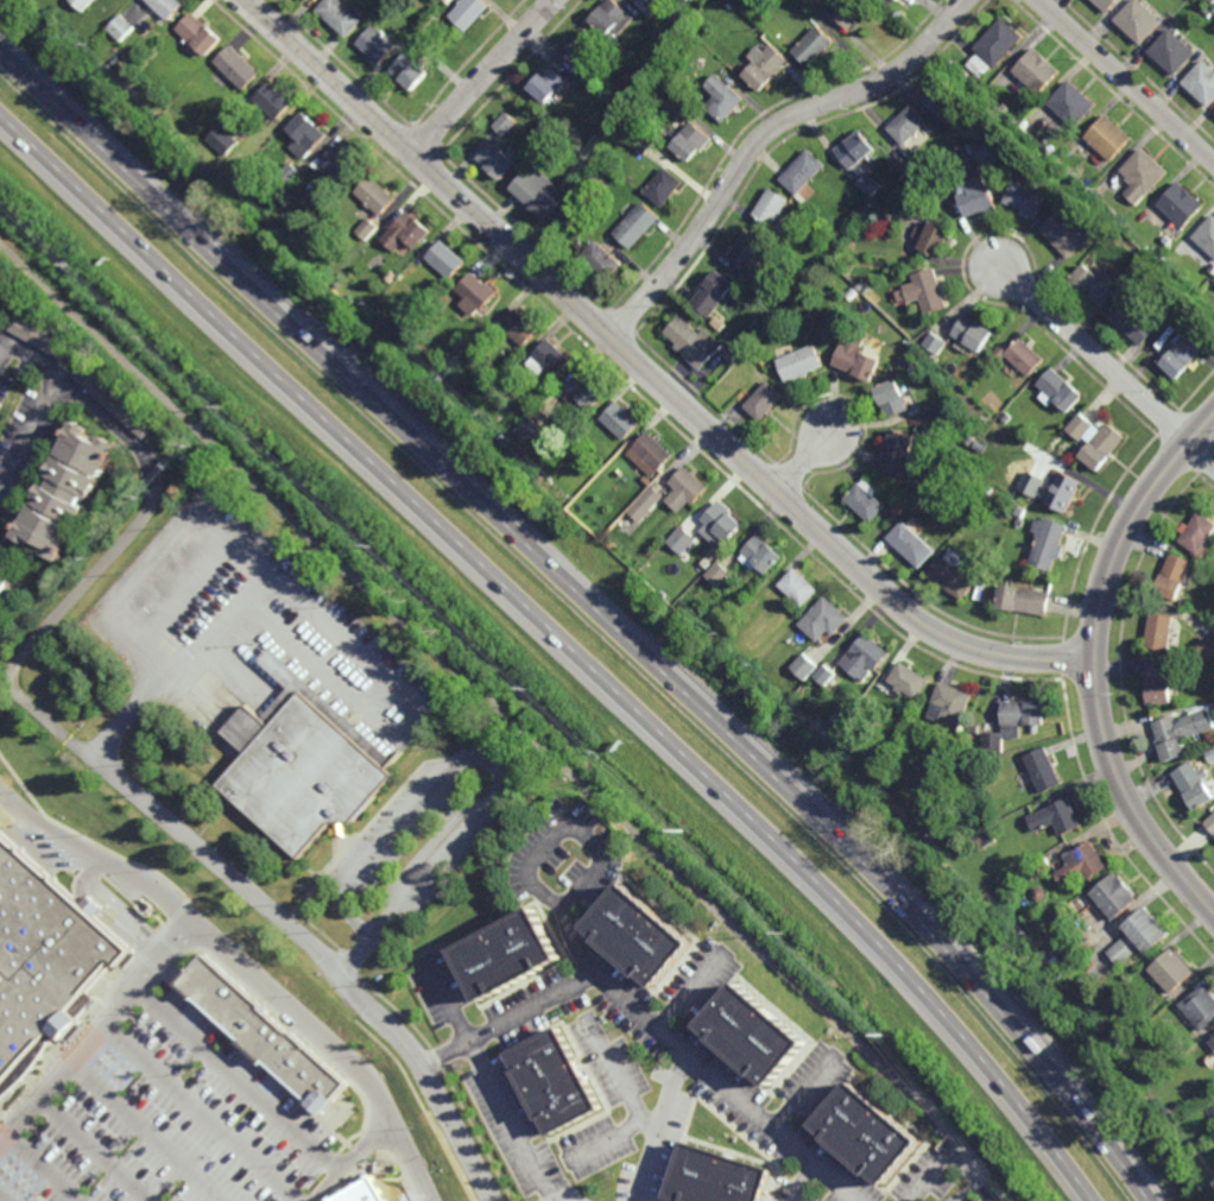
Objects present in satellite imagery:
building: (303, 0)
building: (305, 0)
building: (897, 0)
building: (640, 1)
building: (1209, 2)
building: (83, 4)
building: (1107, 4)
building: (729, 6)
building: (167, 7)
building: (468, 12)
building: (851, 12)
building: (1207, 13)
building: (340, 15)
building: (611, 18)
building: (1140, 19)
building: (121, 29)
building: (201, 36)
building: (419, 43)
building: (375, 45)
building: (813, 46)
building: (995, 46)
building: (580, 48)
building: (1174, 50)
building: (764, 67)
building: (238, 68)
building: (1038, 70)
building: (409, 71)
road: (483, 77)
building: (1203, 80)
road: (1125, 81)
building: (546, 87)
building: (600, 89)
building: (721, 99)
building: (943, 99)
building: (274, 100)
building: (1074, 102)
building: (698, 105)
building: (1004, 105)
building: (677, 108)
building: (504, 124)
building: (908, 125)
building: (998, 129)
building: (953, 132)
building: (305, 134)
building: (664, 135)
road: (761, 137)
building: (1111, 137)
building: (222, 140)
building: (691, 140)
building: (641, 141)
building: (855, 147)
building: (986, 151)
building: (497, 158)
building: (204, 163)
building: (341, 165)
building: (613, 173)
building: (803, 173)
building: (1145, 173)
building: (290, 175)
building: (1073, 175)
building: (1064, 183)
building: (870, 184)
building: (664, 185)
building: (538, 191)
building: (375, 195)
building: (979, 196)
building: (1026, 196)
building: (1183, 204)
building: (771, 206)
building: (1112, 209)
building: (889, 213)
building: (637, 223)
building: (367, 229)
building: (1071, 230)
building: (406, 232)
building: (1207, 235)
building: (934, 236)
building: (581, 246)
building: (747, 251)
building: (447, 258)
building: (602, 259)
building: (1147, 260)
power tower: (69, 270)
building: (1213, 270)
building: (391, 274)
building: (758, 284)
building: (1096, 284)
building: (860, 285)
building: (928, 290)
building: (478, 292)
building: (713, 292)
building: (772, 306)
building: (1210, 320)
building: (1133, 322)
building: (719, 323)
building: (520, 327)
building: (973, 333)
building: (42, 336)
building: (693, 342)
building: (936, 342)
road: (1095, 354)
building: (731, 355)
building: (1183, 355)
building: (1019, 356)
building: (551, 358)
building: (858, 358)
building: (921, 358)
building: (802, 362)
road: (649, 373)
building: (1058, 390)
building: (584, 392)
road: (49, 398)
building: (114, 398)
building: (893, 398)
building: (764, 400)
power tower: (219, 412)
building: (1005, 417)
building: (620, 419)
building: (530, 428)
building: (969, 440)
building: (1095, 440)
building: (979, 445)
road: (1201, 450)
building: (898, 451)
building: (650, 453)
road: (804, 462)
building: (646, 480)
building: (685, 488)
building: (987, 489)
building: (68, 491)
building: (1061, 492)
building: (865, 500)
building: (645, 504)
building: (897, 510)
building: (1019, 512)
building: (721, 524)
building: (1196, 532)
building: (681, 539)
building: (1048, 542)
building: (911, 544)
power tower: (374, 554)
building: (760, 555)
building: (1212, 563)
road: (95, 571)
building: (717, 574)
building: (1172, 576)
building: (6, 579)
building: (951, 579)
building: (1045, 581)
building: (798, 587)
building: (1024, 600)
building: (1184, 605)
road: (594, 607)
building: (823, 620)
building: (1159, 632)
road: (563, 641)
building: (1206, 646)
park: (453, 655)
building: (865, 657)
road: (1093, 662)
building: (804, 666)
building: (824, 676)
building: (909, 681)
building: (1161, 682)
power tower: (523, 689)
road: (140, 703)
building: (949, 703)
building: (1016, 723)
road: (513, 726)
building: (974, 729)
building: (1181, 732)
building: (1210, 754)
road: (473, 757)
building: (845, 760)
building: (305, 764)
building: (1044, 770)
building: (1196, 784)
building: (1057, 817)
building: (975, 820)
building: (1210, 822)
parking lot: (399, 827)
power tower: (670, 828)
building: (986, 837)
road: (603, 846)
road: (429, 851)
road: (99, 858)
building: (1082, 861)
parking lot: (456, 866)
building: (1039, 867)
building: (1039, 892)
building: (1115, 895)
building: (1033, 917)
building: (1074, 923)
building: (1149, 927)
power tower: (778, 929)
building: (641, 931)
building: (1123, 950)
building: (511, 954)
road: (322, 956)
road: (354, 957)
building: (40, 966)
building: (1174, 968)
road: (690, 998)
building: (1201, 1005)
power tower: (879, 1026)
building: (754, 1029)
road: (651, 1032)
road: (96, 1034)
building: (260, 1035)
building: (1212, 1039)
building: (1111, 1041)
road: (328, 1049)
road: (614, 1072)
road: (241, 1079)
building: (557, 1079)
road: (491, 1082)
road: (804, 1094)
road: (203, 1113)
road: (658, 1130)
building: (871, 1130)
road: (145, 1132)
road: (613, 1136)
road: (94, 1150)
road: (353, 1162)
road: (949, 1163)
road: (38, 1169)
building: (716, 1176)
road: (805, 1183)

